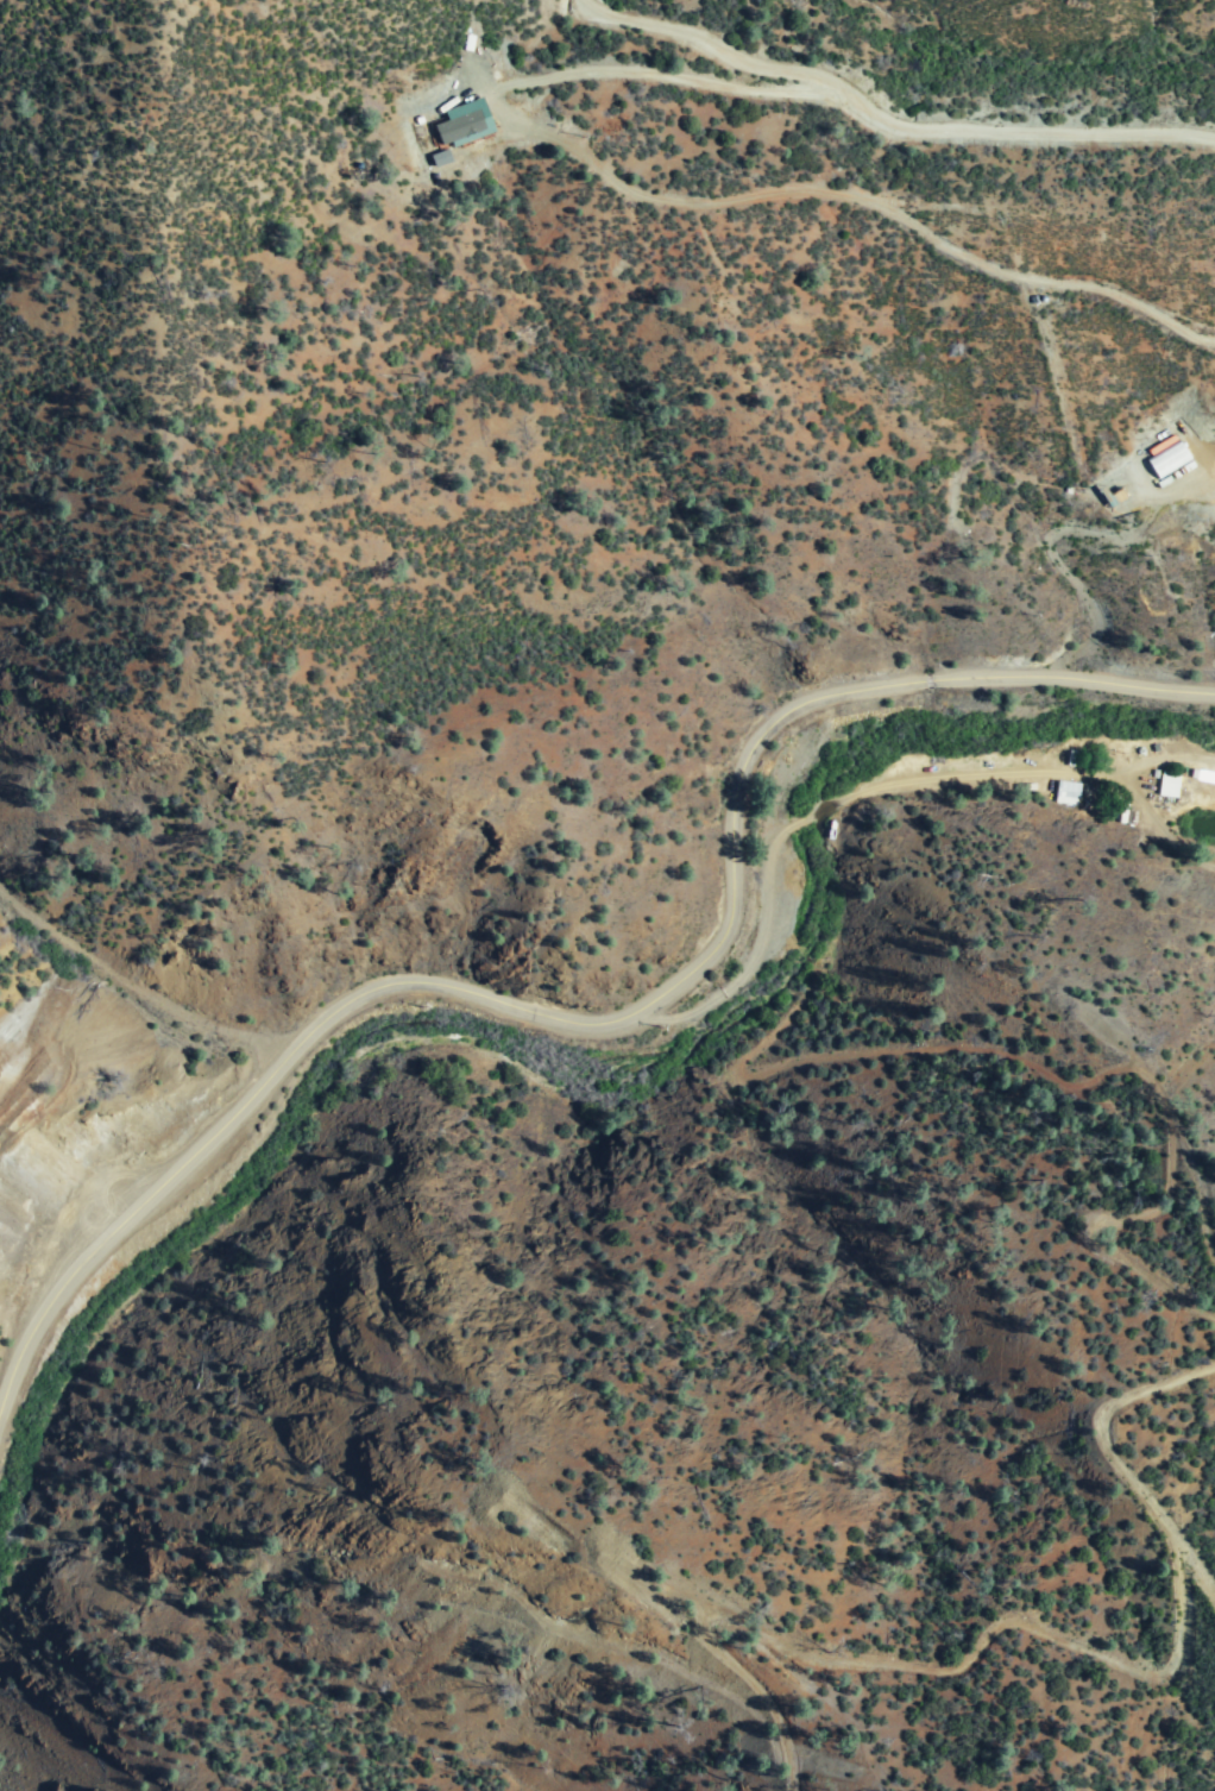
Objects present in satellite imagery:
road: (667, 74)
road: (881, 118)
building: (458, 126)
building: (1169, 461)
road: (1053, 557)
road: (618, 1012)

